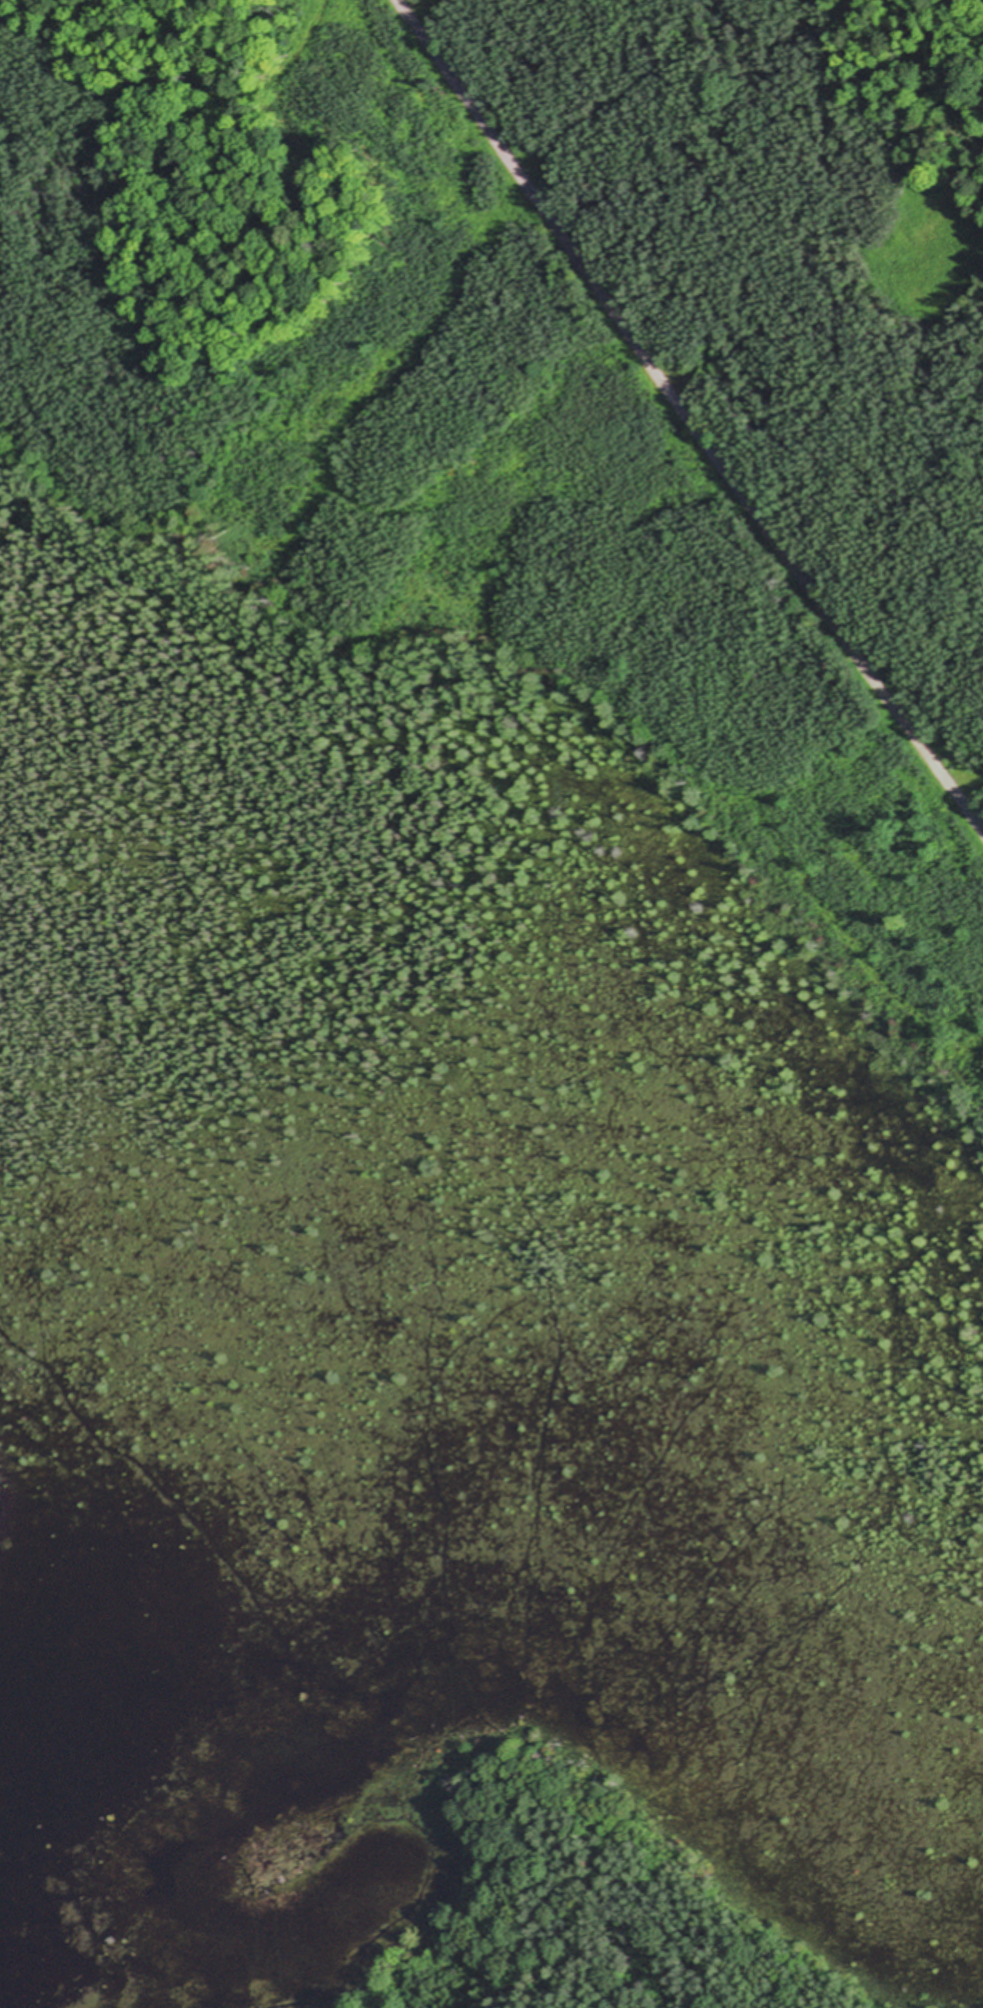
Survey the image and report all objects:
road: (686, 418)

